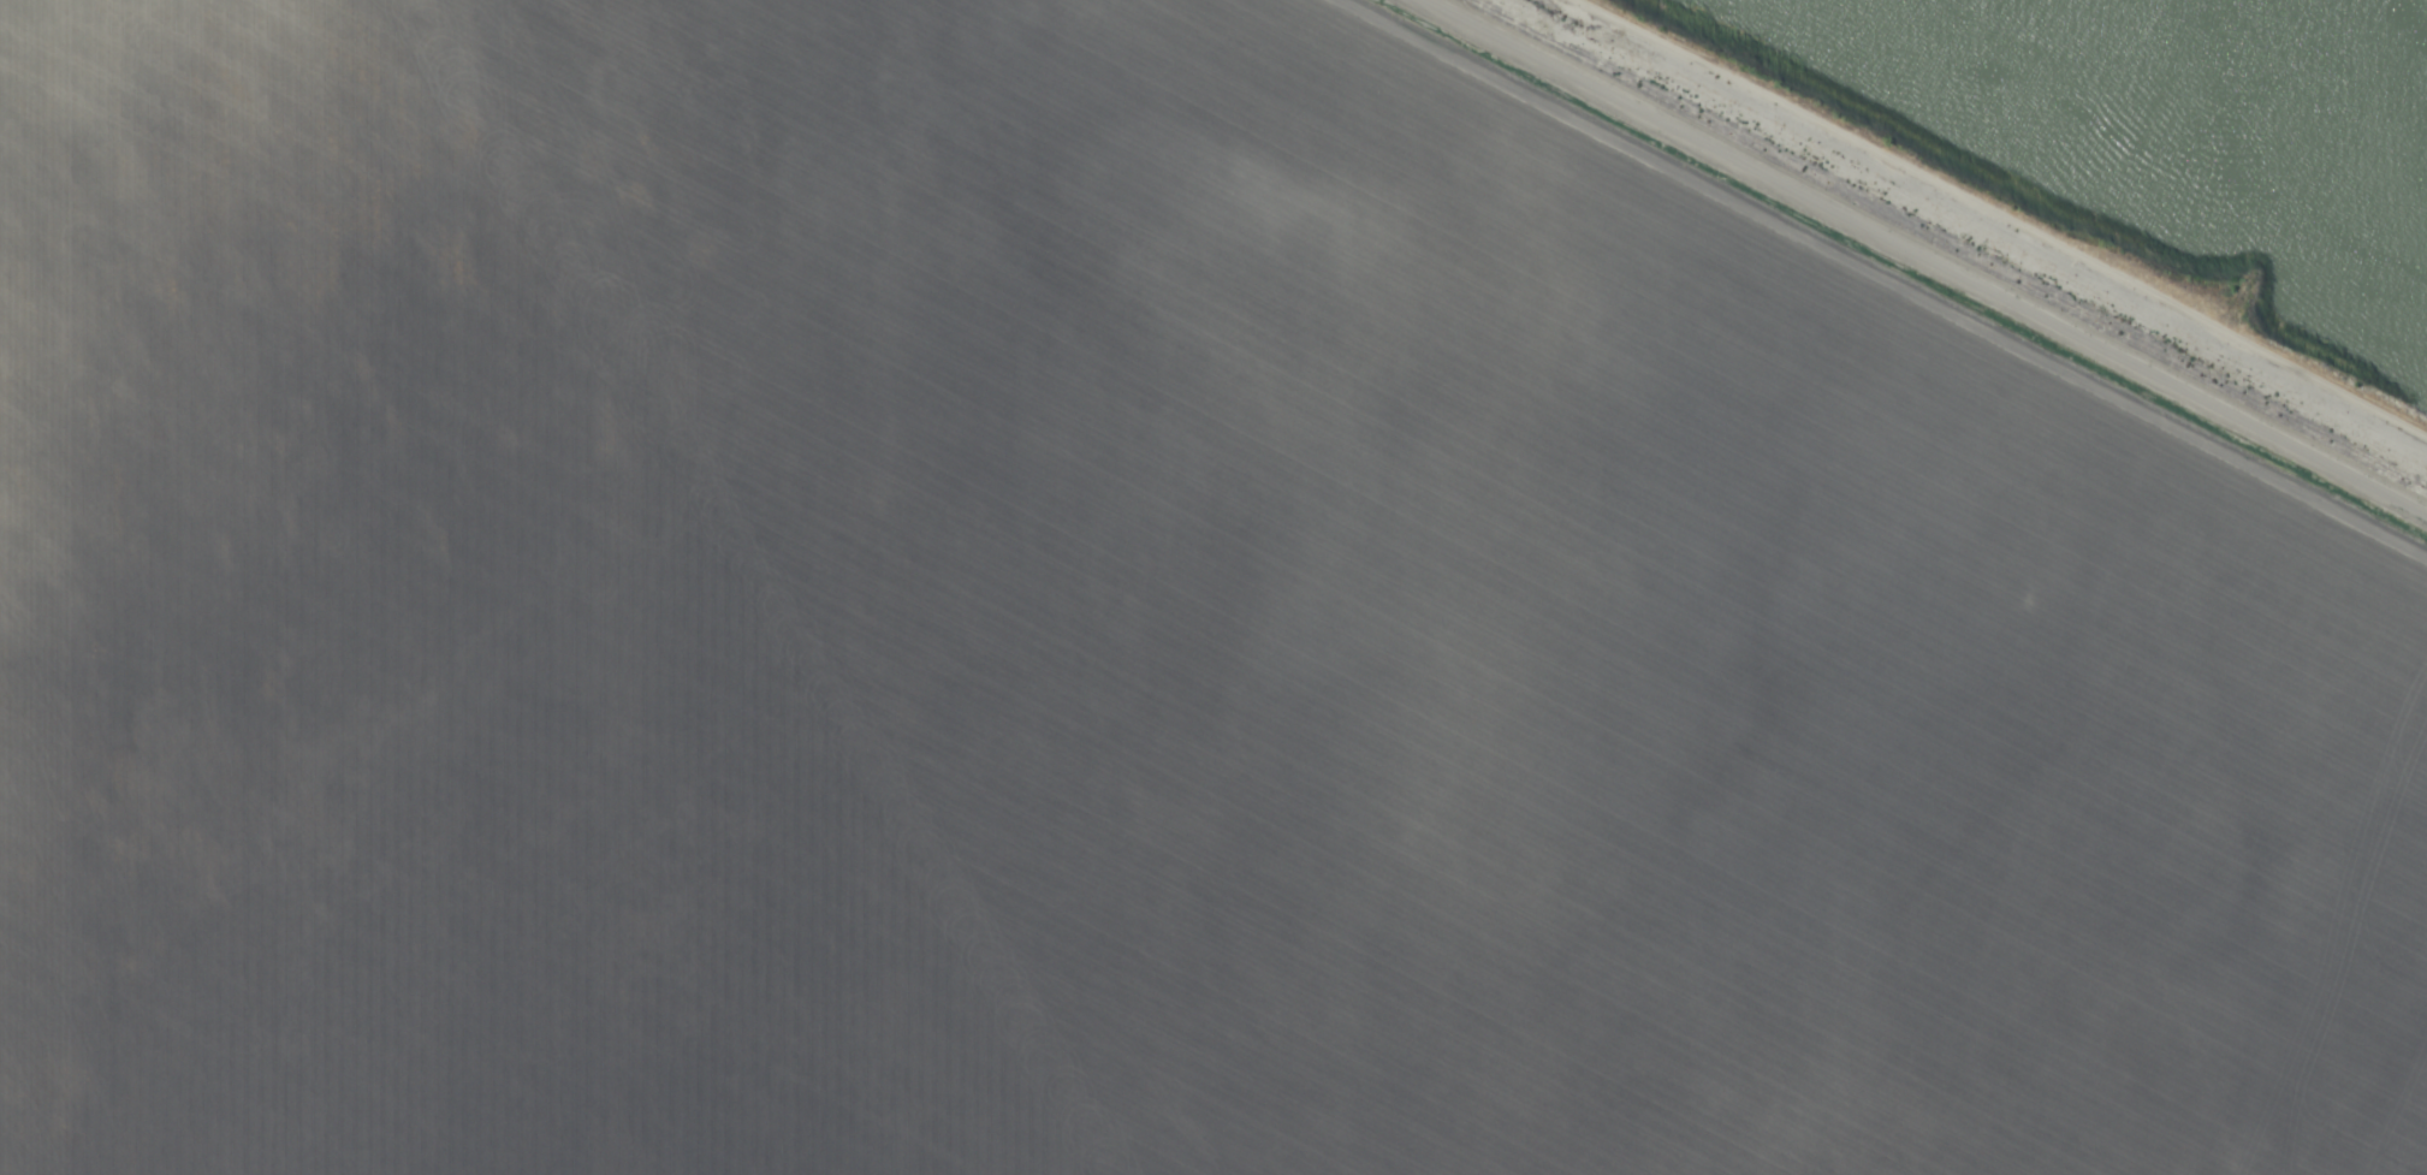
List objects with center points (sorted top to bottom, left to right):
crop: (1167, 609)

